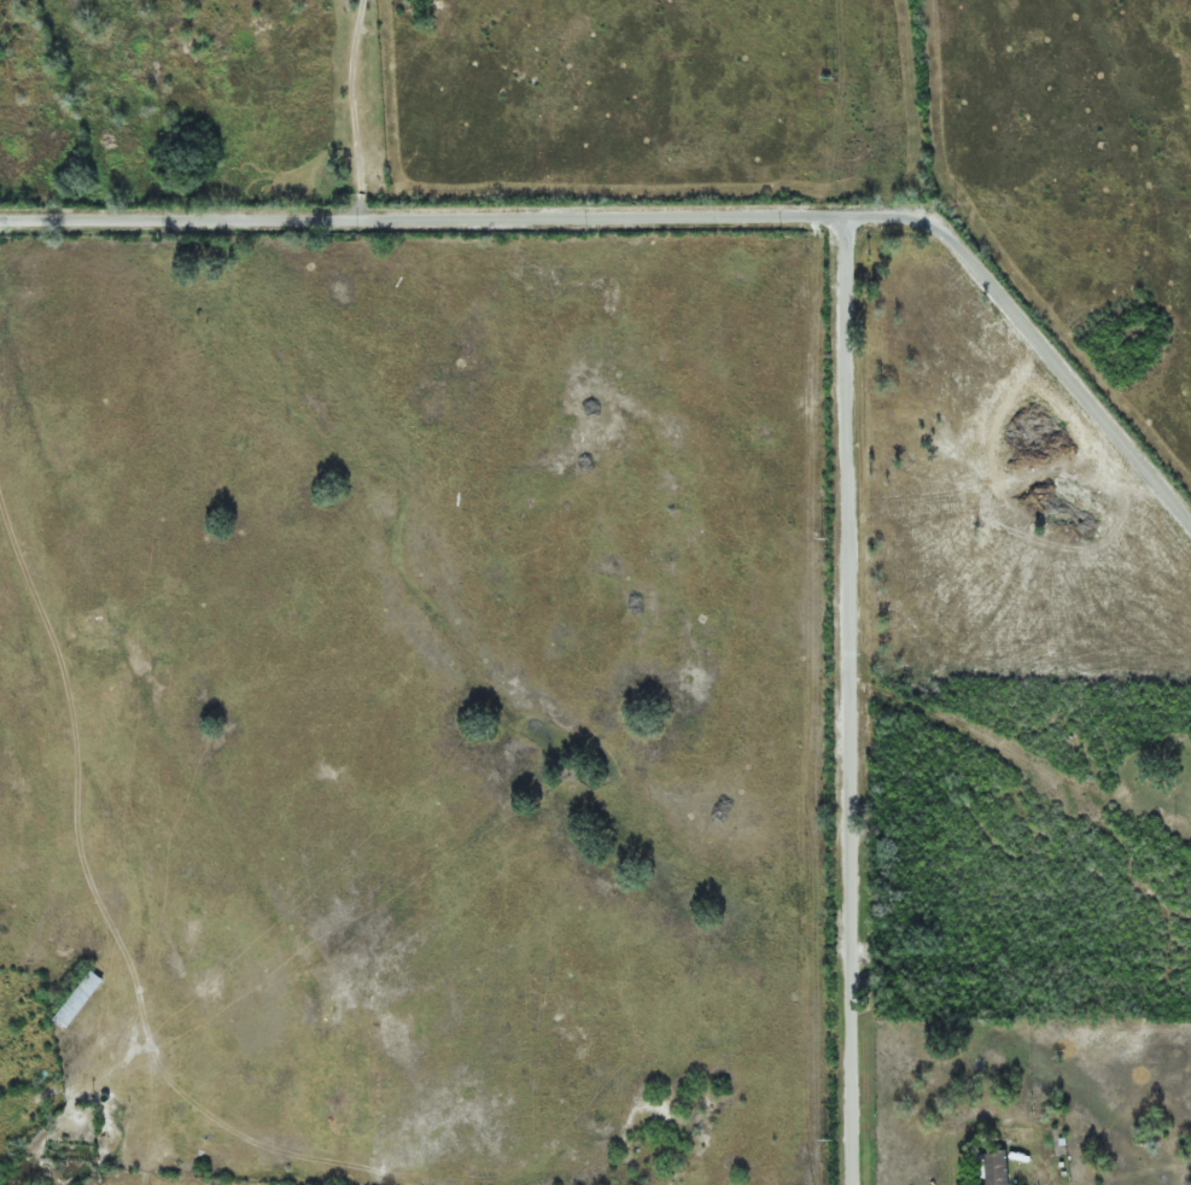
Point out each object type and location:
power tower: (829, 76)
road: (666, 217)
power tower: (825, 537)
road: (835, 701)
building: (80, 998)
power tower: (829, 1139)
building: (991, 1167)

